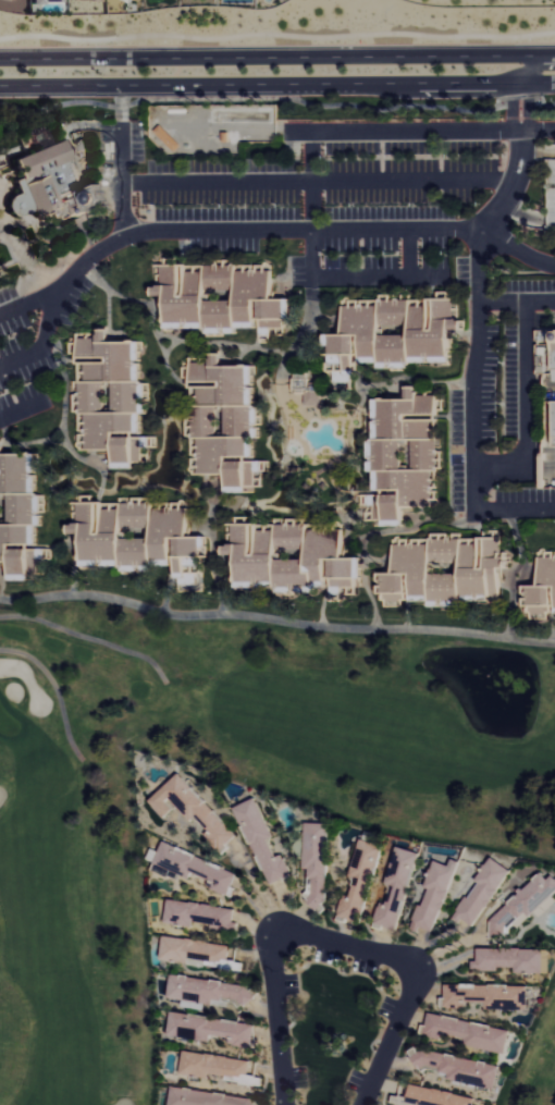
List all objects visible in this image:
road: (276, 56)
road: (276, 82)
road: (432, 131)
road: (296, 132)
building: (166, 138)
road: (120, 160)
building: (42, 180)
road: (316, 180)
building: (81, 204)
road: (230, 229)
road: (407, 251)
road: (518, 251)
road: (478, 255)
road: (310, 256)
road: (377, 277)
building: (221, 297)
road: (516, 300)
building: (388, 333)
road: (41, 342)
building: (545, 353)
building: (307, 386)
building: (108, 398)
road: (526, 408)
road: (21, 409)
building: (553, 421)
building: (222, 422)
building: (403, 454)
road: (494, 508)
building: (16, 516)
building: (140, 537)
building: (288, 556)
building: (542, 588)
road: (276, 618)
fountain: (489, 684)
building: (194, 810)
building: (263, 842)
park: (70, 850)
building: (318, 863)
building: (194, 868)
building: (361, 882)
building: (398, 888)
building: (483, 893)
building: (435, 897)
building: (523, 905)
building: (199, 914)
road: (336, 937)
building: (196, 950)
building: (513, 959)
building: (208, 992)
building: (486, 996)
building: (210, 1029)
building: (467, 1032)
park: (535, 1064)
building: (217, 1067)
building: (459, 1068)
building: (433, 1097)
building: (207, 1098)

